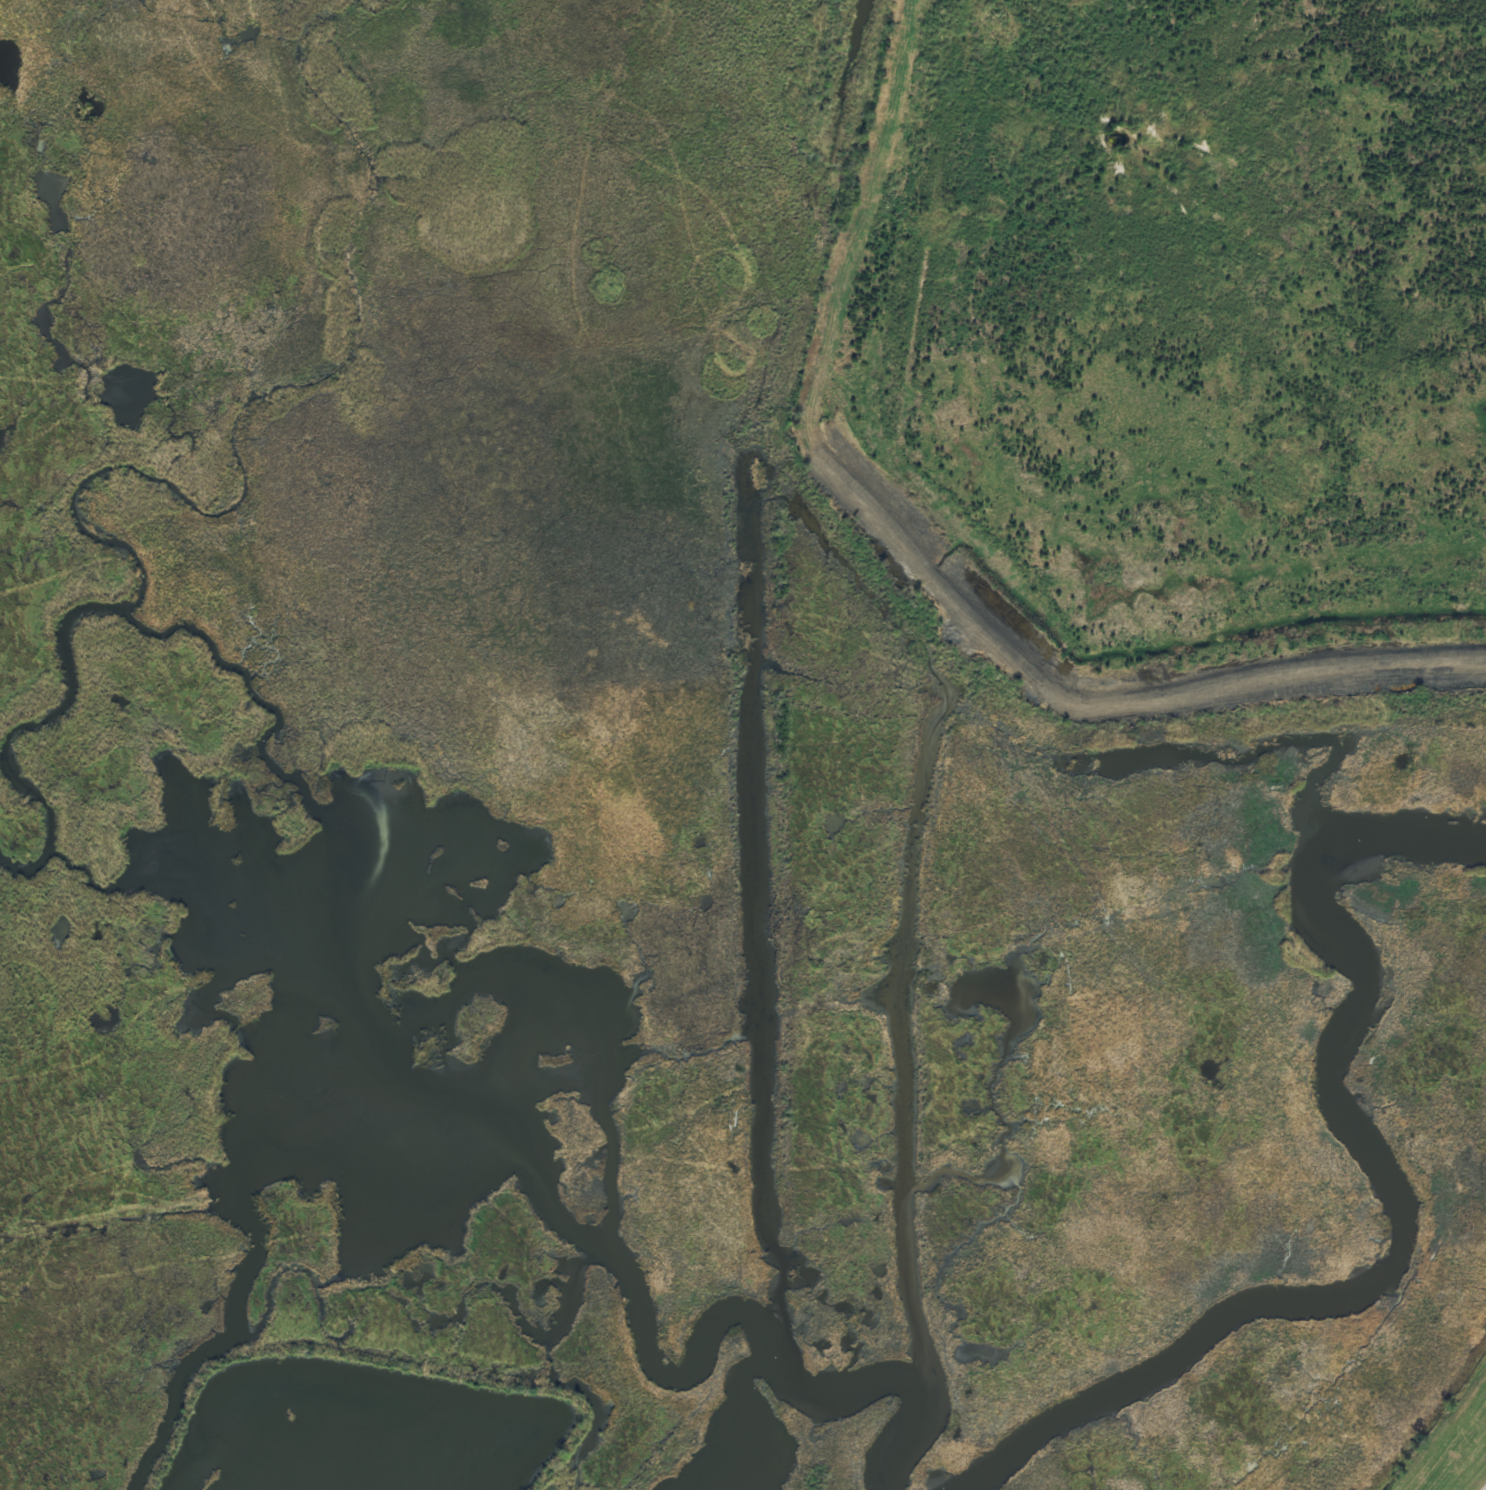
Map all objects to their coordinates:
road: (1484, 1487)

